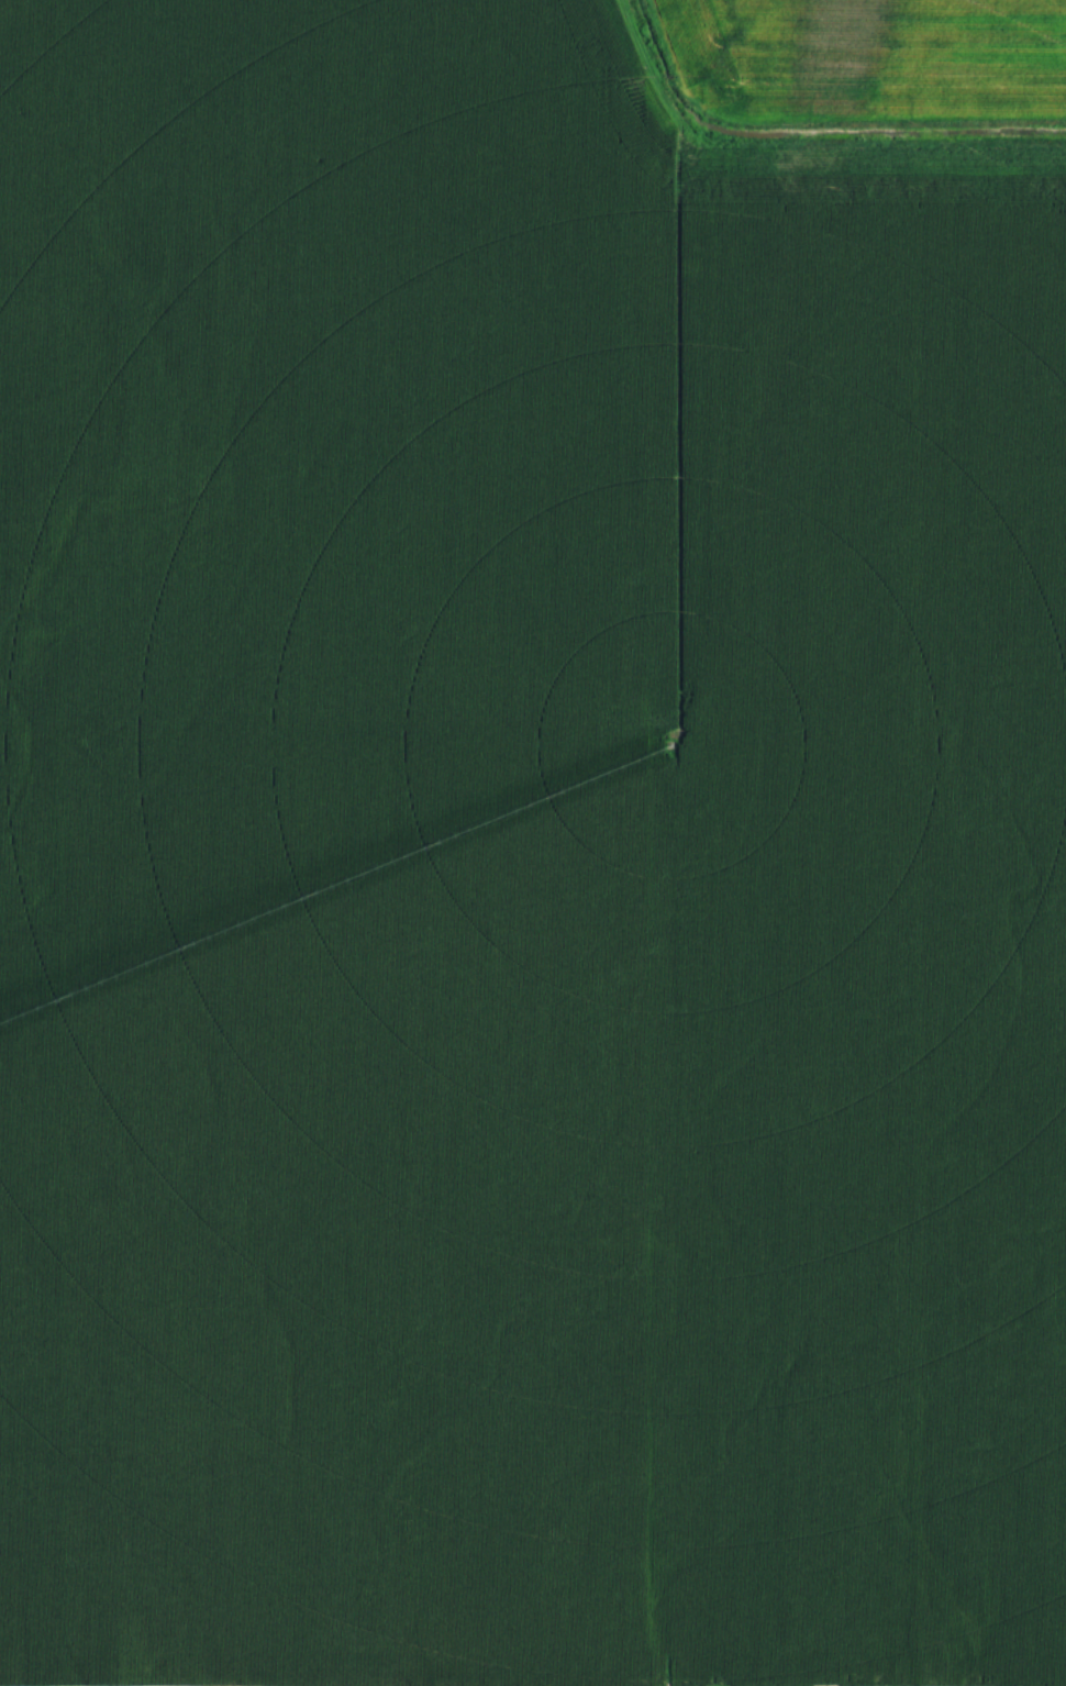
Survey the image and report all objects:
river: (809, 137)

